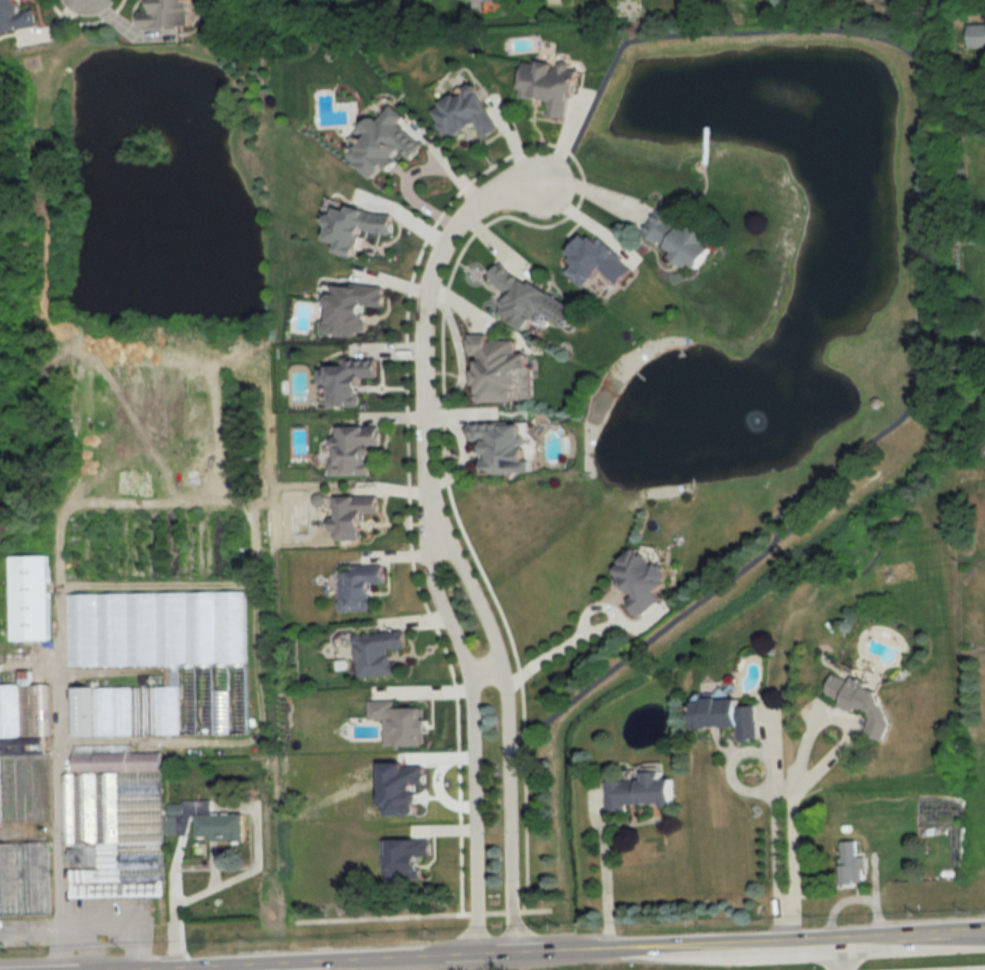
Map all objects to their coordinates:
building: (492, 0)
building: (167, 13)
building: (16, 16)
building: (976, 35)
building: (550, 85)
building: (465, 114)
building: (384, 143)
building: (355, 227)
building: (679, 239)
building: (598, 261)
building: (532, 300)
building: (352, 308)
road: (423, 321)
building: (501, 369)
building: (347, 380)
building: (507, 446)
building: (353, 450)
building: (355, 515)
building: (644, 579)
building: (359, 588)
building: (30, 598)
road: (586, 633)
building: (379, 653)
building: (165, 666)
road: (486, 671)
building: (864, 699)
building: (729, 716)
road: (838, 721)
road: (506, 727)
road: (469, 731)
building: (24, 752)
road: (768, 783)
building: (642, 792)
road: (785, 797)
building: (113, 822)
building: (221, 827)
building: (851, 864)
building: (24, 879)
road: (604, 882)
road: (171, 913)
road: (784, 921)
road: (98, 924)
road: (30, 928)
road: (540, 947)
road: (840, 952)

